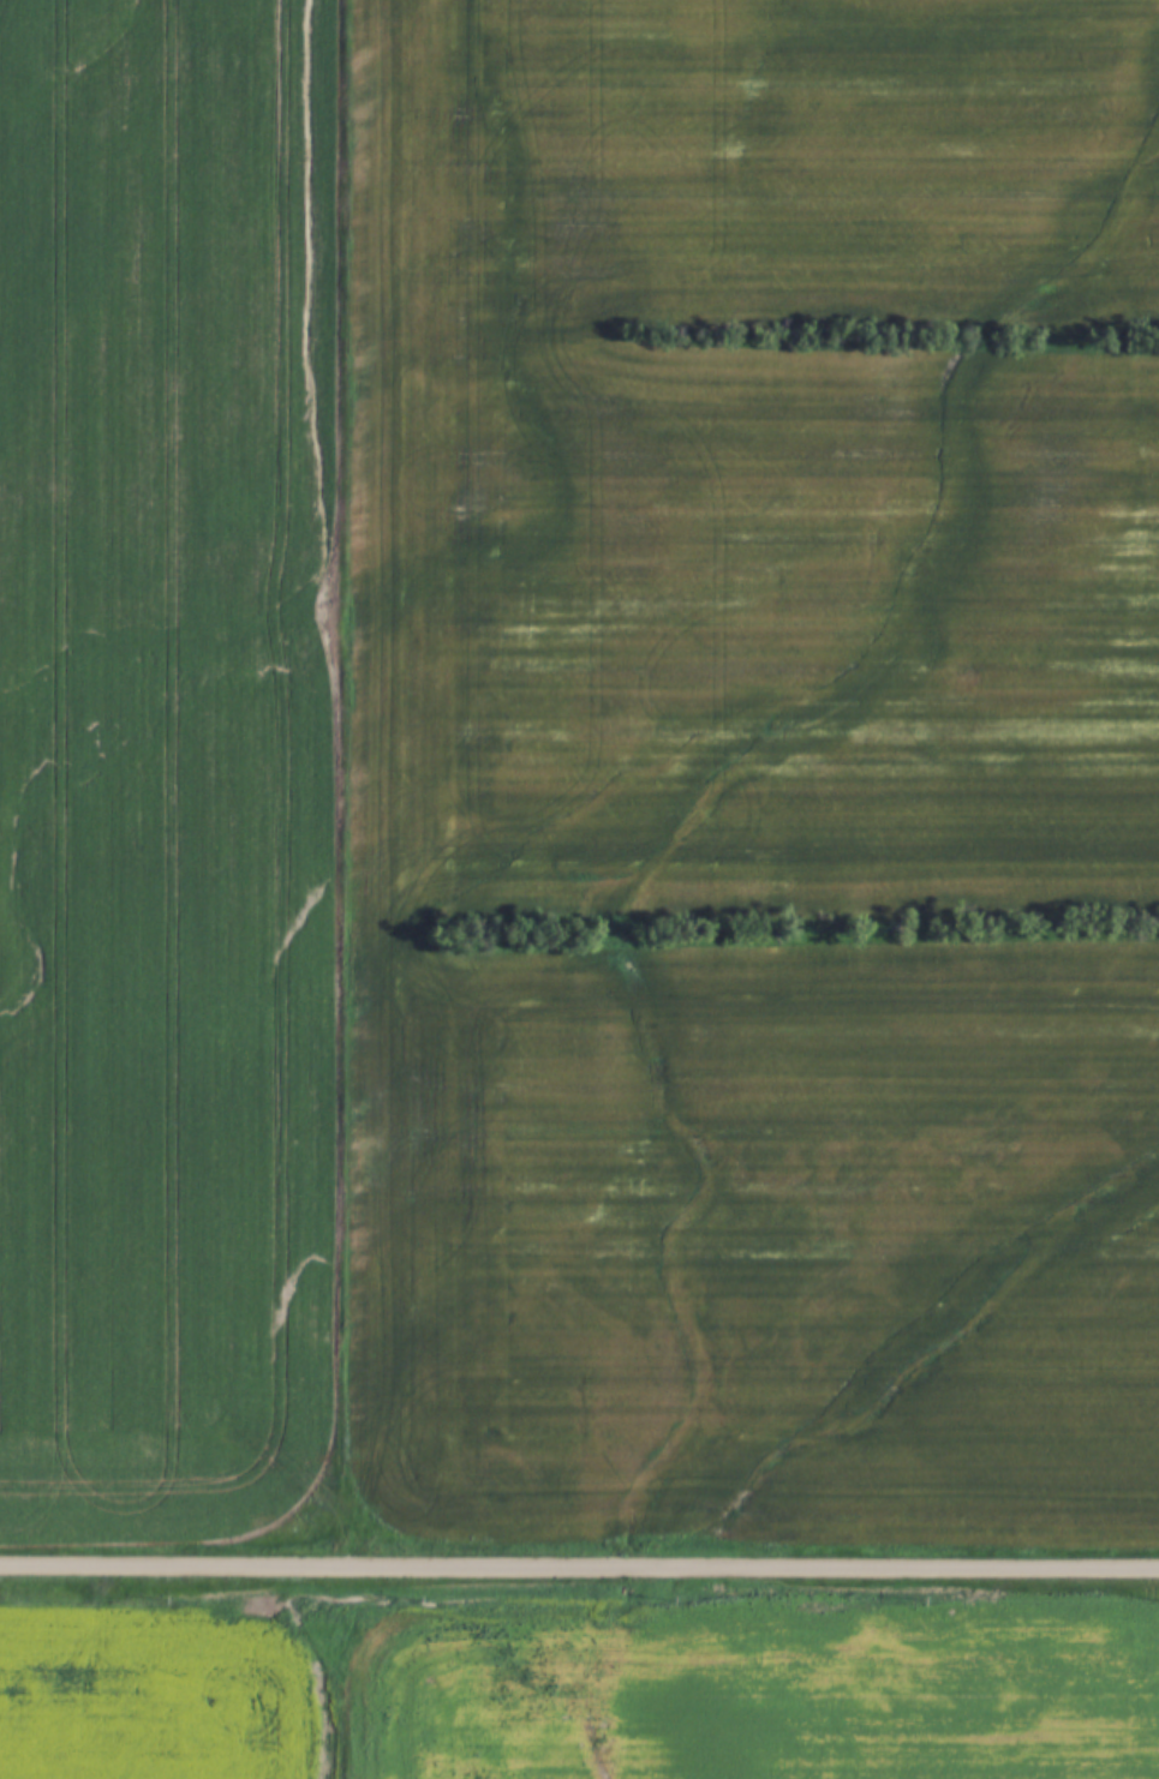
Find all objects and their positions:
road: (579, 1570)

